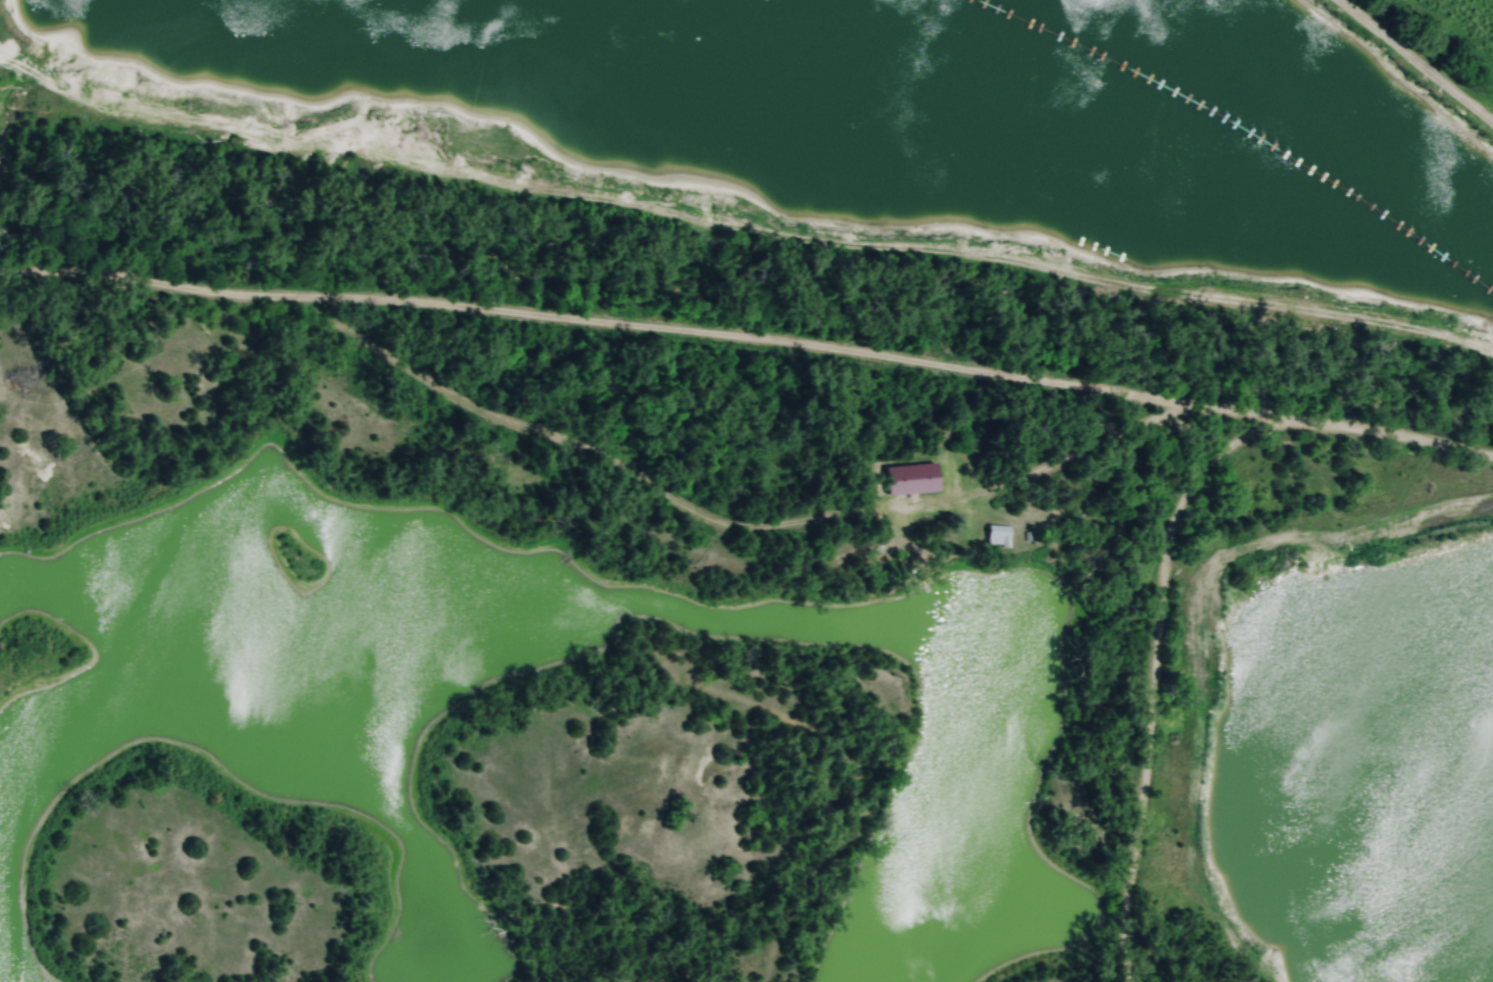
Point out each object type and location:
road: (741, 338)
road: (1383, 437)
road: (629, 477)
building: (998, 536)
road: (1151, 679)

